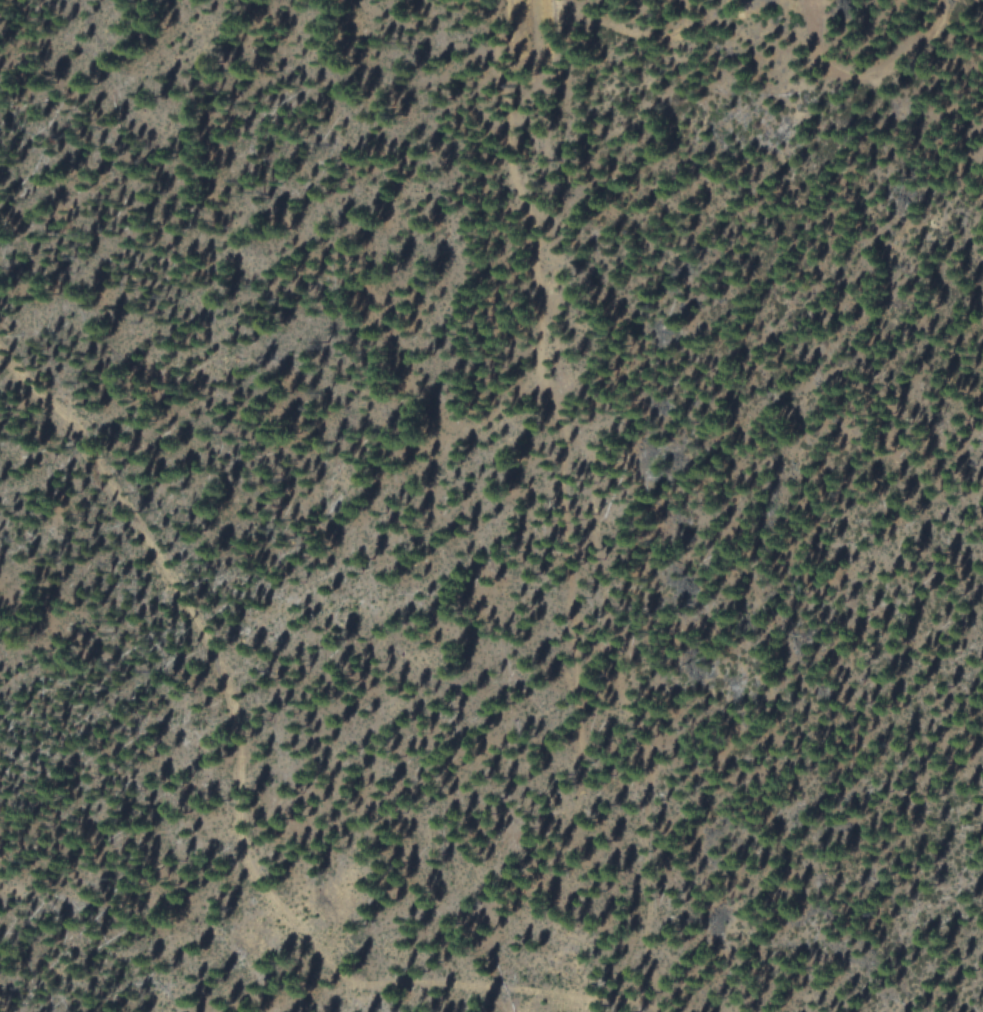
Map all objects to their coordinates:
road: (239, 801)

